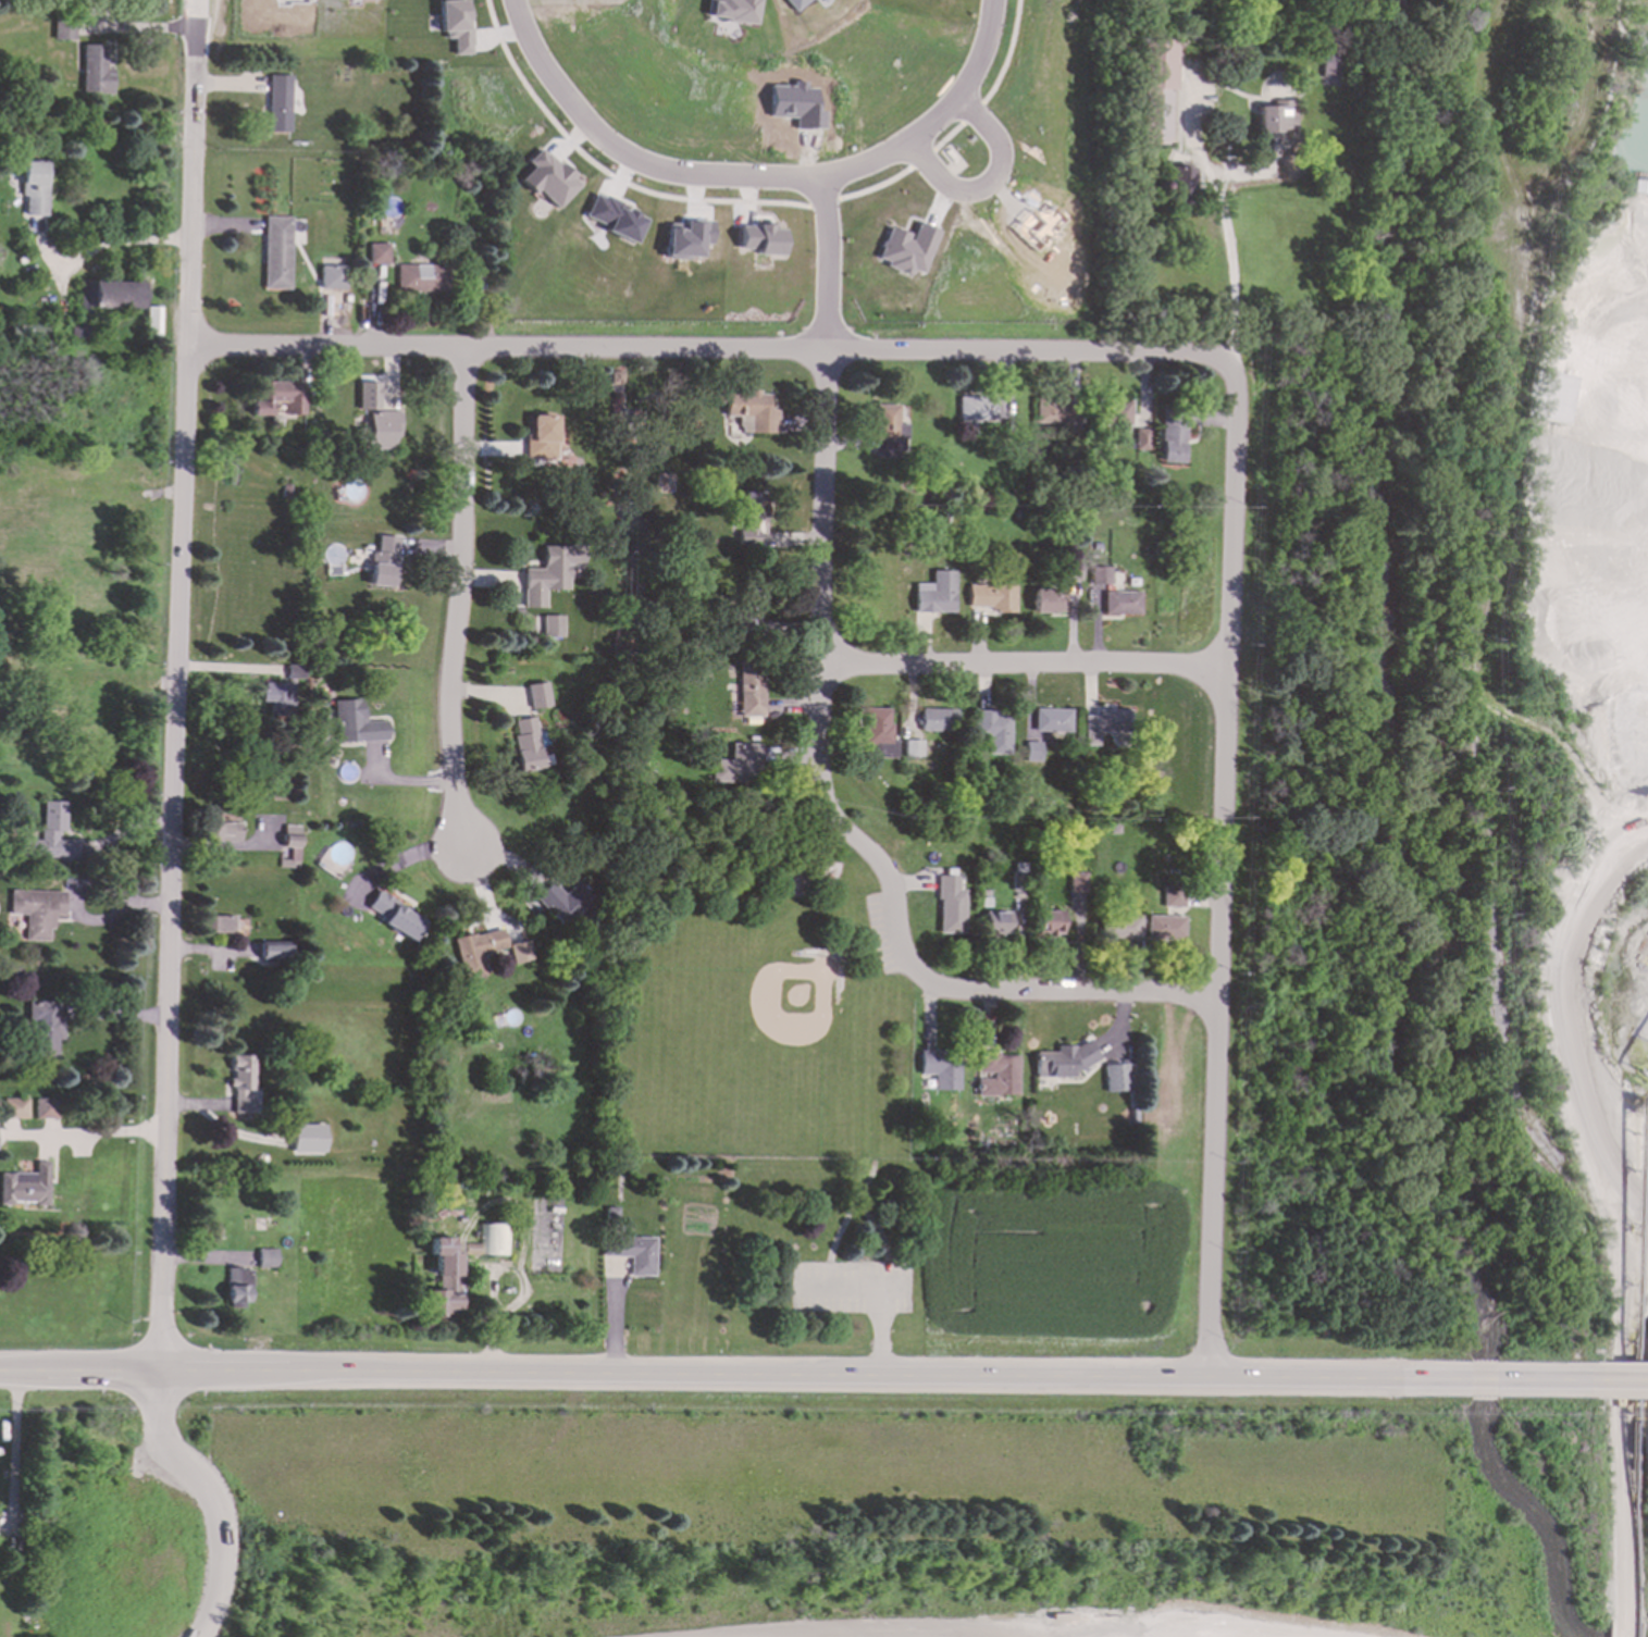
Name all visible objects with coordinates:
building: (794, 4)
building: (730, 11)
building: (454, 25)
building: (95, 71)
building: (1328, 71)
building: (1155, 92)
building: (277, 104)
building: (1275, 119)
building: (546, 178)
road: (749, 185)
building: (1178, 187)
building: (34, 188)
road: (982, 190)
road: (755, 202)
building: (611, 219)
road: (1225, 225)
building: (684, 238)
building: (758, 239)
road: (120, 244)
building: (905, 249)
building: (275, 253)
building: (376, 253)
road: (821, 268)
building: (330, 277)
building: (420, 278)
building: (109, 295)
building: (27, 331)
building: (78, 331)
road: (695, 351)
building: (365, 397)
building: (275, 398)
building: (974, 409)
building: (752, 411)
building: (1052, 412)
building: (1119, 413)
building: (887, 424)
building: (377, 430)
building: (538, 437)
building: (1140, 439)
building: (1172, 441)
building: (748, 519)
building: (382, 562)
building: (1068, 572)
building: (548, 574)
building: (1099, 576)
building: (933, 594)
building: (990, 597)
road: (458, 598)
building: (1046, 602)
building: (1120, 604)
building: (743, 609)
building: (549, 627)
road: (1025, 666)
building: (294, 672)
road: (176, 684)
building: (749, 690)
building: (536, 696)
building: (276, 699)
building: (935, 720)
building: (1051, 721)
building: (354, 723)
building: (1104, 726)
building: (875, 727)
building: (992, 731)
building: (524, 745)
building: (910, 748)
quarry: (1454, 751)
building: (879, 752)
building: (1030, 752)
building: (738, 766)
road: (841, 828)
building: (224, 832)
building: (51, 835)
building: (289, 838)
road: (1224, 857)
building: (1077, 882)
building: (1172, 896)
building: (563, 903)
building: (950, 906)
building: (36, 911)
building: (394, 917)
building: (996, 923)
building: (1049, 923)
building: (218, 925)
building: (1126, 928)
building: (1166, 929)
building: (273, 951)
building: (475, 952)
building: (519, 953)
building: (44, 1029)
park: (773, 1061)
building: (1061, 1061)
building: (940, 1069)
building: (996, 1075)
building: (1115, 1078)
building: (240, 1082)
building: (15, 1108)
building: (46, 1108)
road: (102, 1134)
building: (307, 1139)
building: (25, 1187)
building: (632, 1253)
building: (265, 1258)
crop: (1061, 1266)
building: (442, 1279)
building: (236, 1288)
road: (881, 1293)
road: (701, 1373)
road: (1525, 1375)
road: (157, 1401)
road: (15, 1449)
quarry: (818, 1511)
road: (219, 1527)

